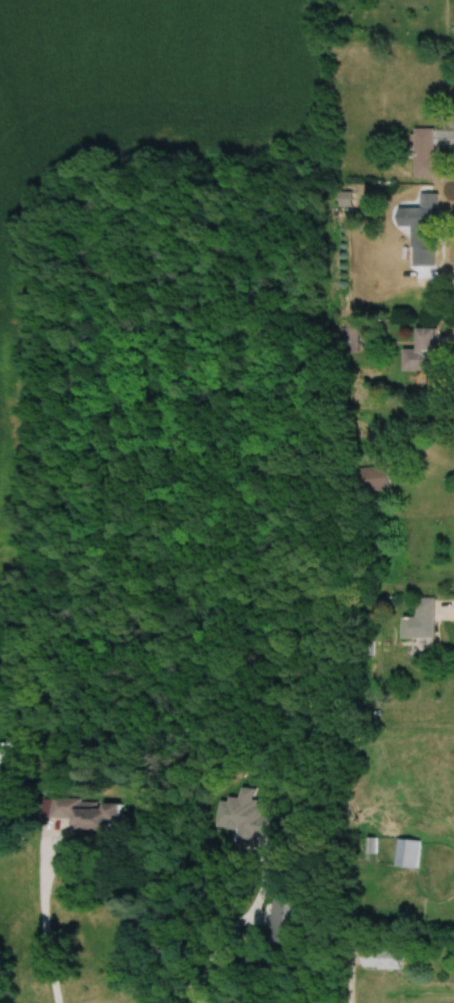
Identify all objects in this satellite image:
building: (424, 152)
building: (338, 197)
building: (425, 215)
building: (345, 337)
building: (420, 351)
building: (366, 478)
building: (419, 619)
building: (4, 758)
building: (77, 812)
building: (407, 852)
road: (42, 921)
road: (226, 924)
building: (380, 957)

